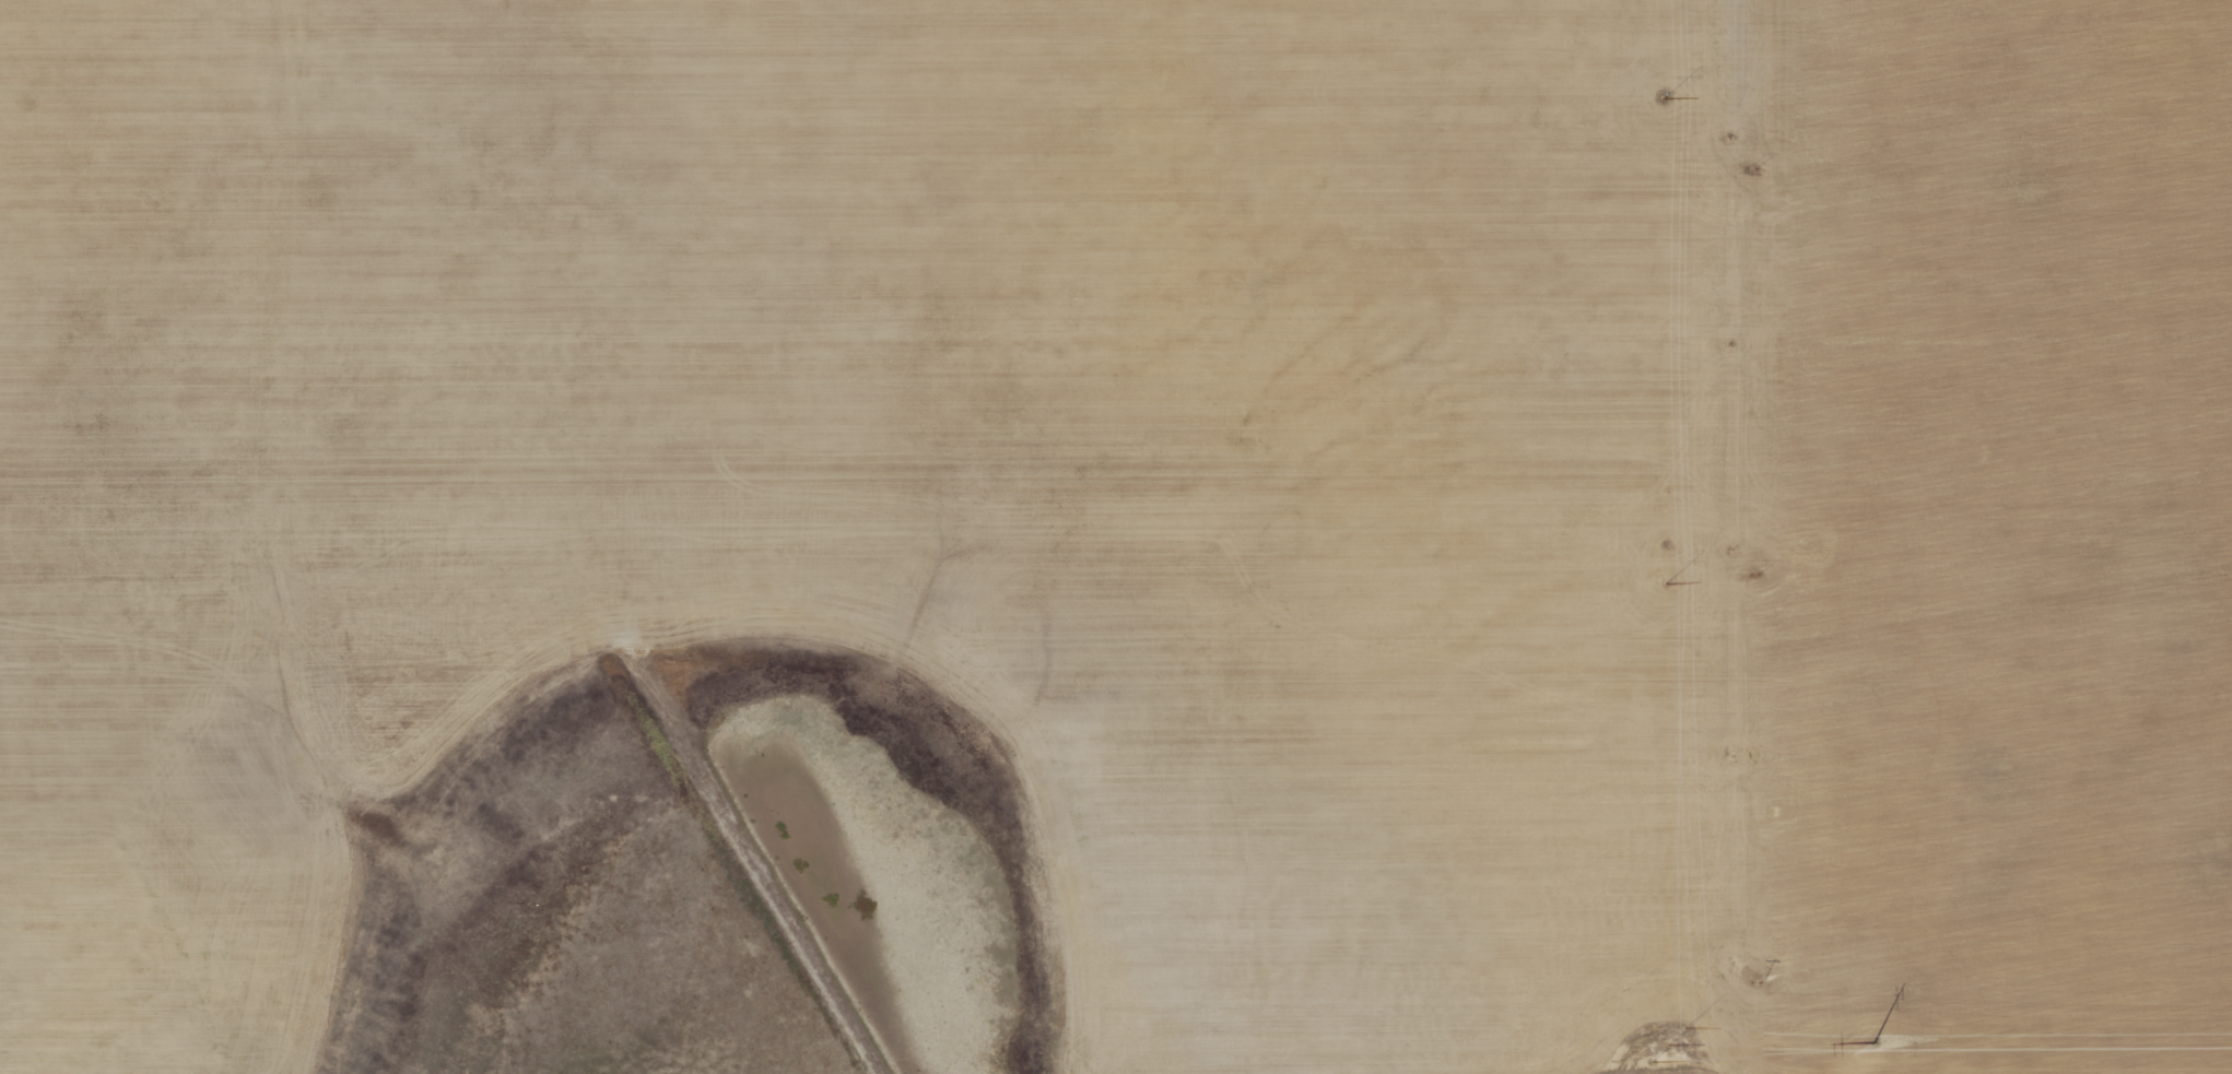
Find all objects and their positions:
power tower: (1663, 97)
power tower: (1666, 582)
power tower: (1871, 1042)
power tower: (1668, 1043)

